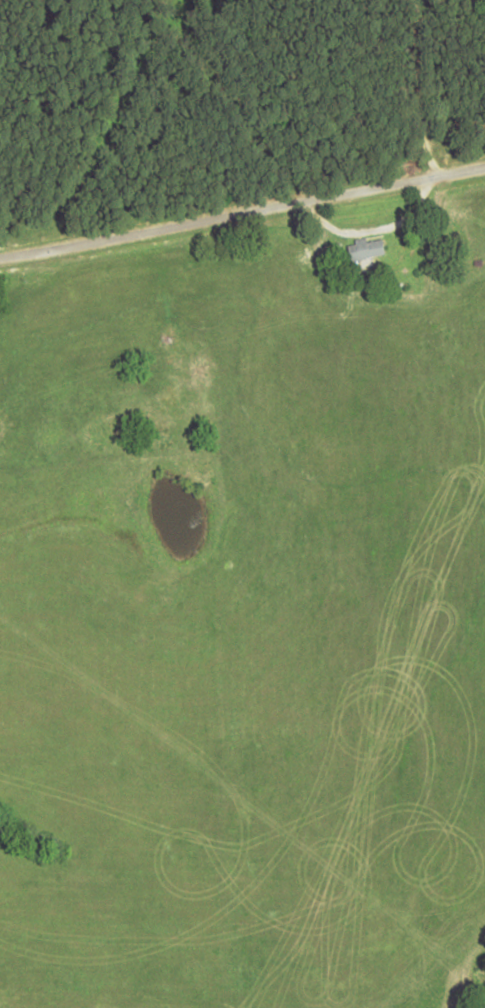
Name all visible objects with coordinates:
road: (241, 213)
building: (365, 249)

